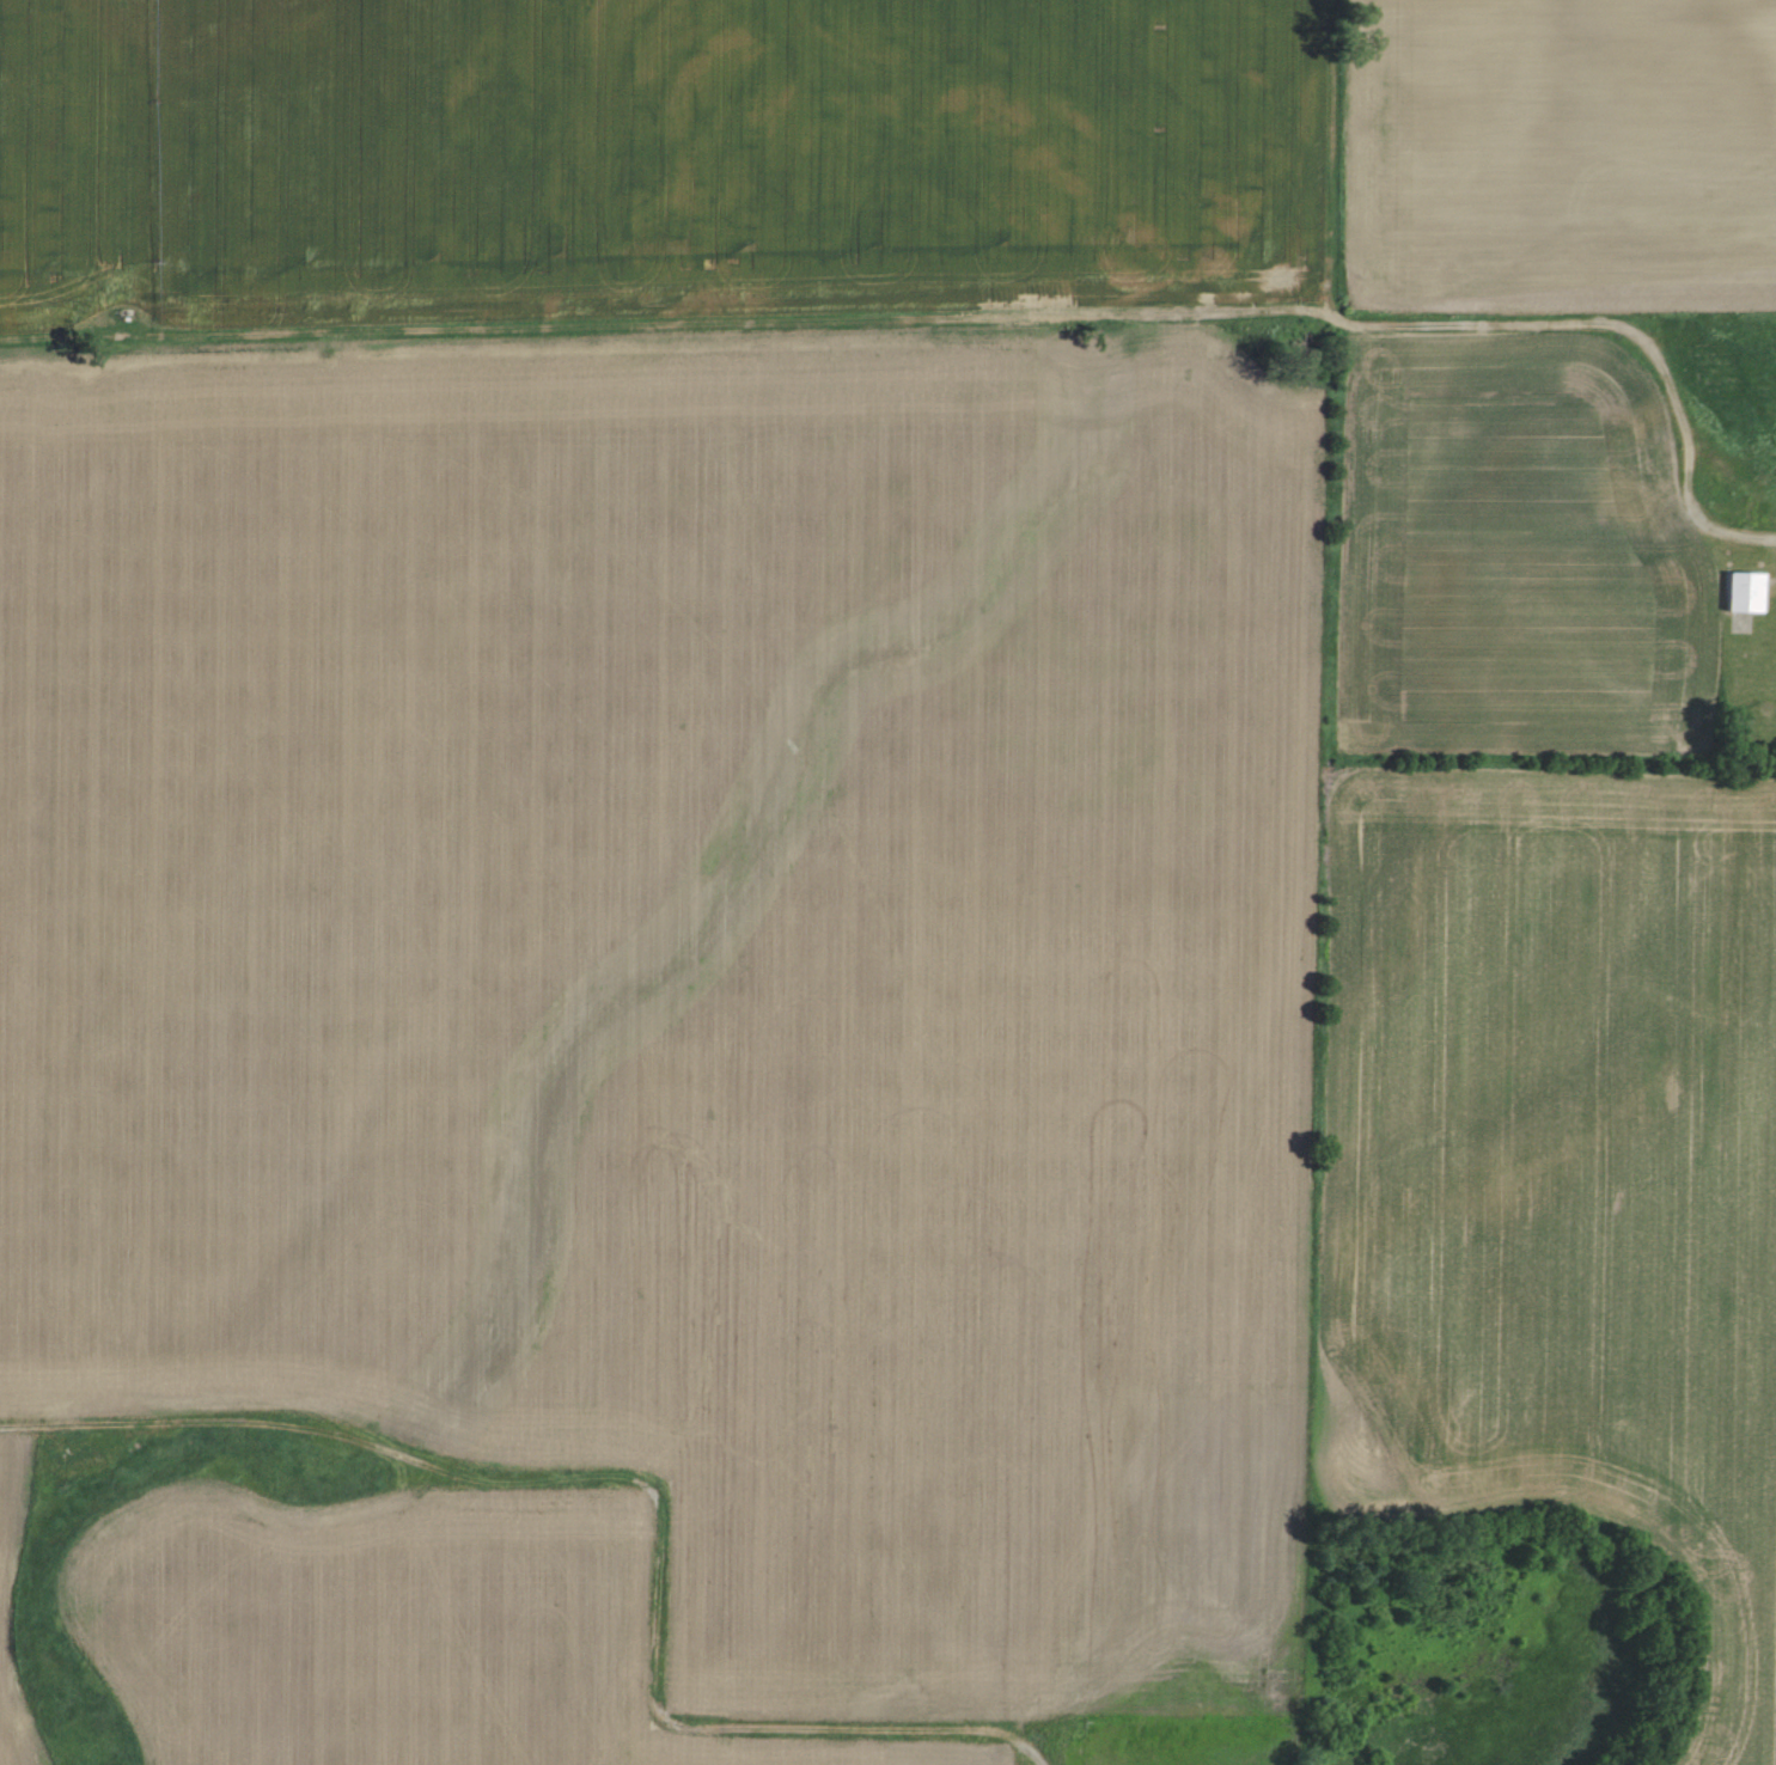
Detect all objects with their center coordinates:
building: (1737, 592)

